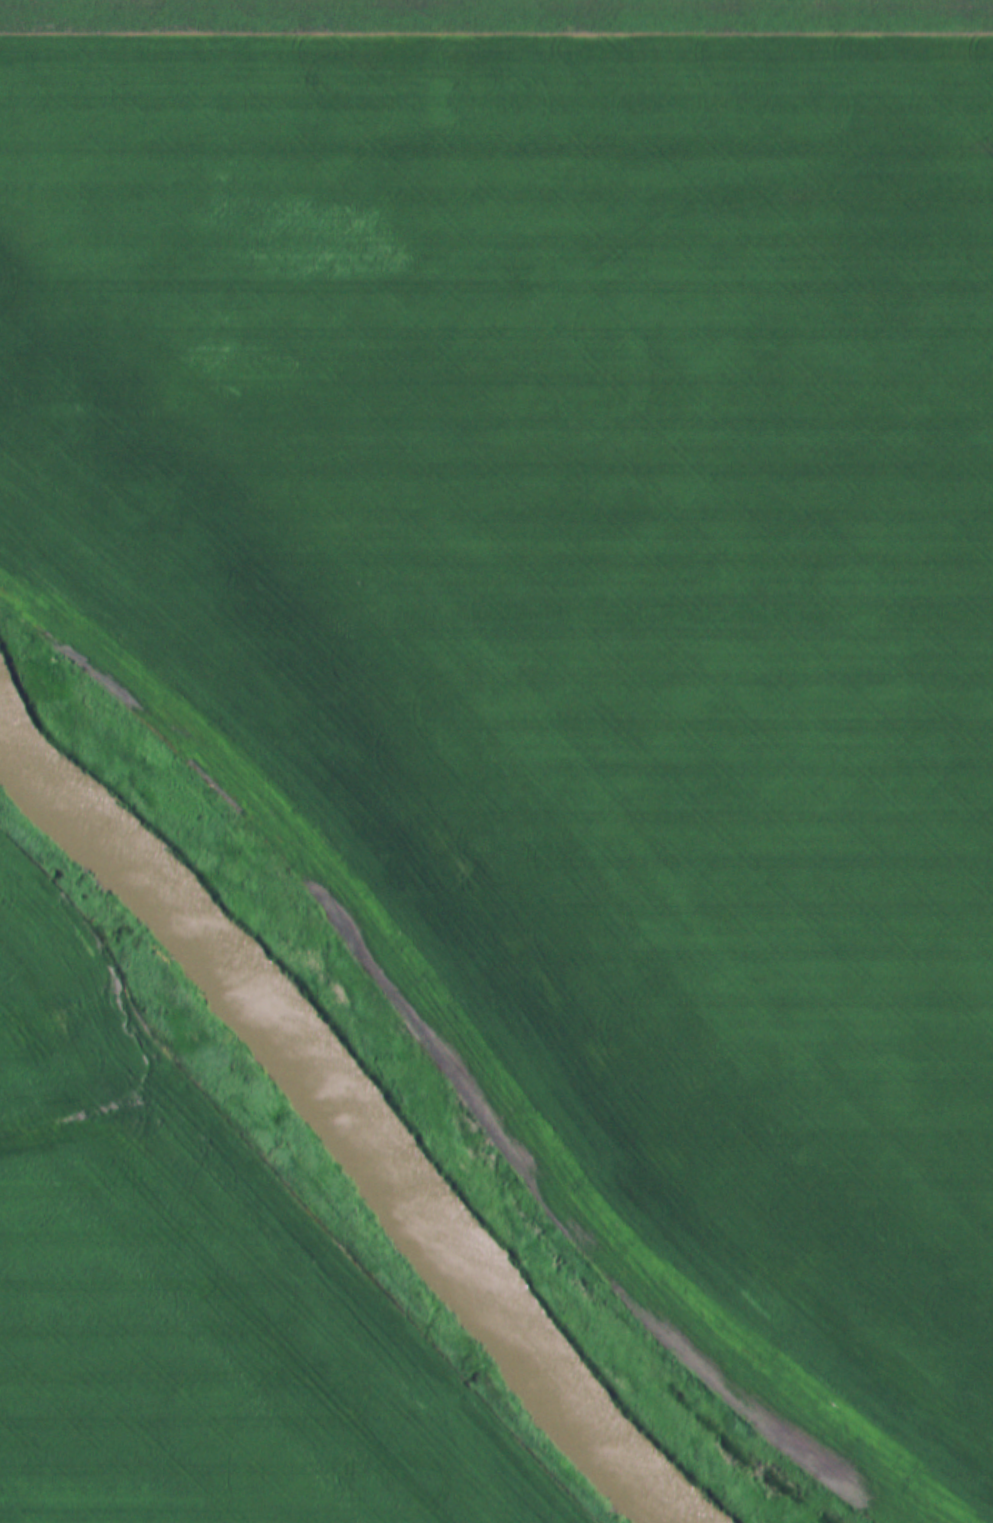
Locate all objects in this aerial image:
crop: (502, 15)
crop: (579, 612)
river: (350, 1099)
crop: (191, 1292)

